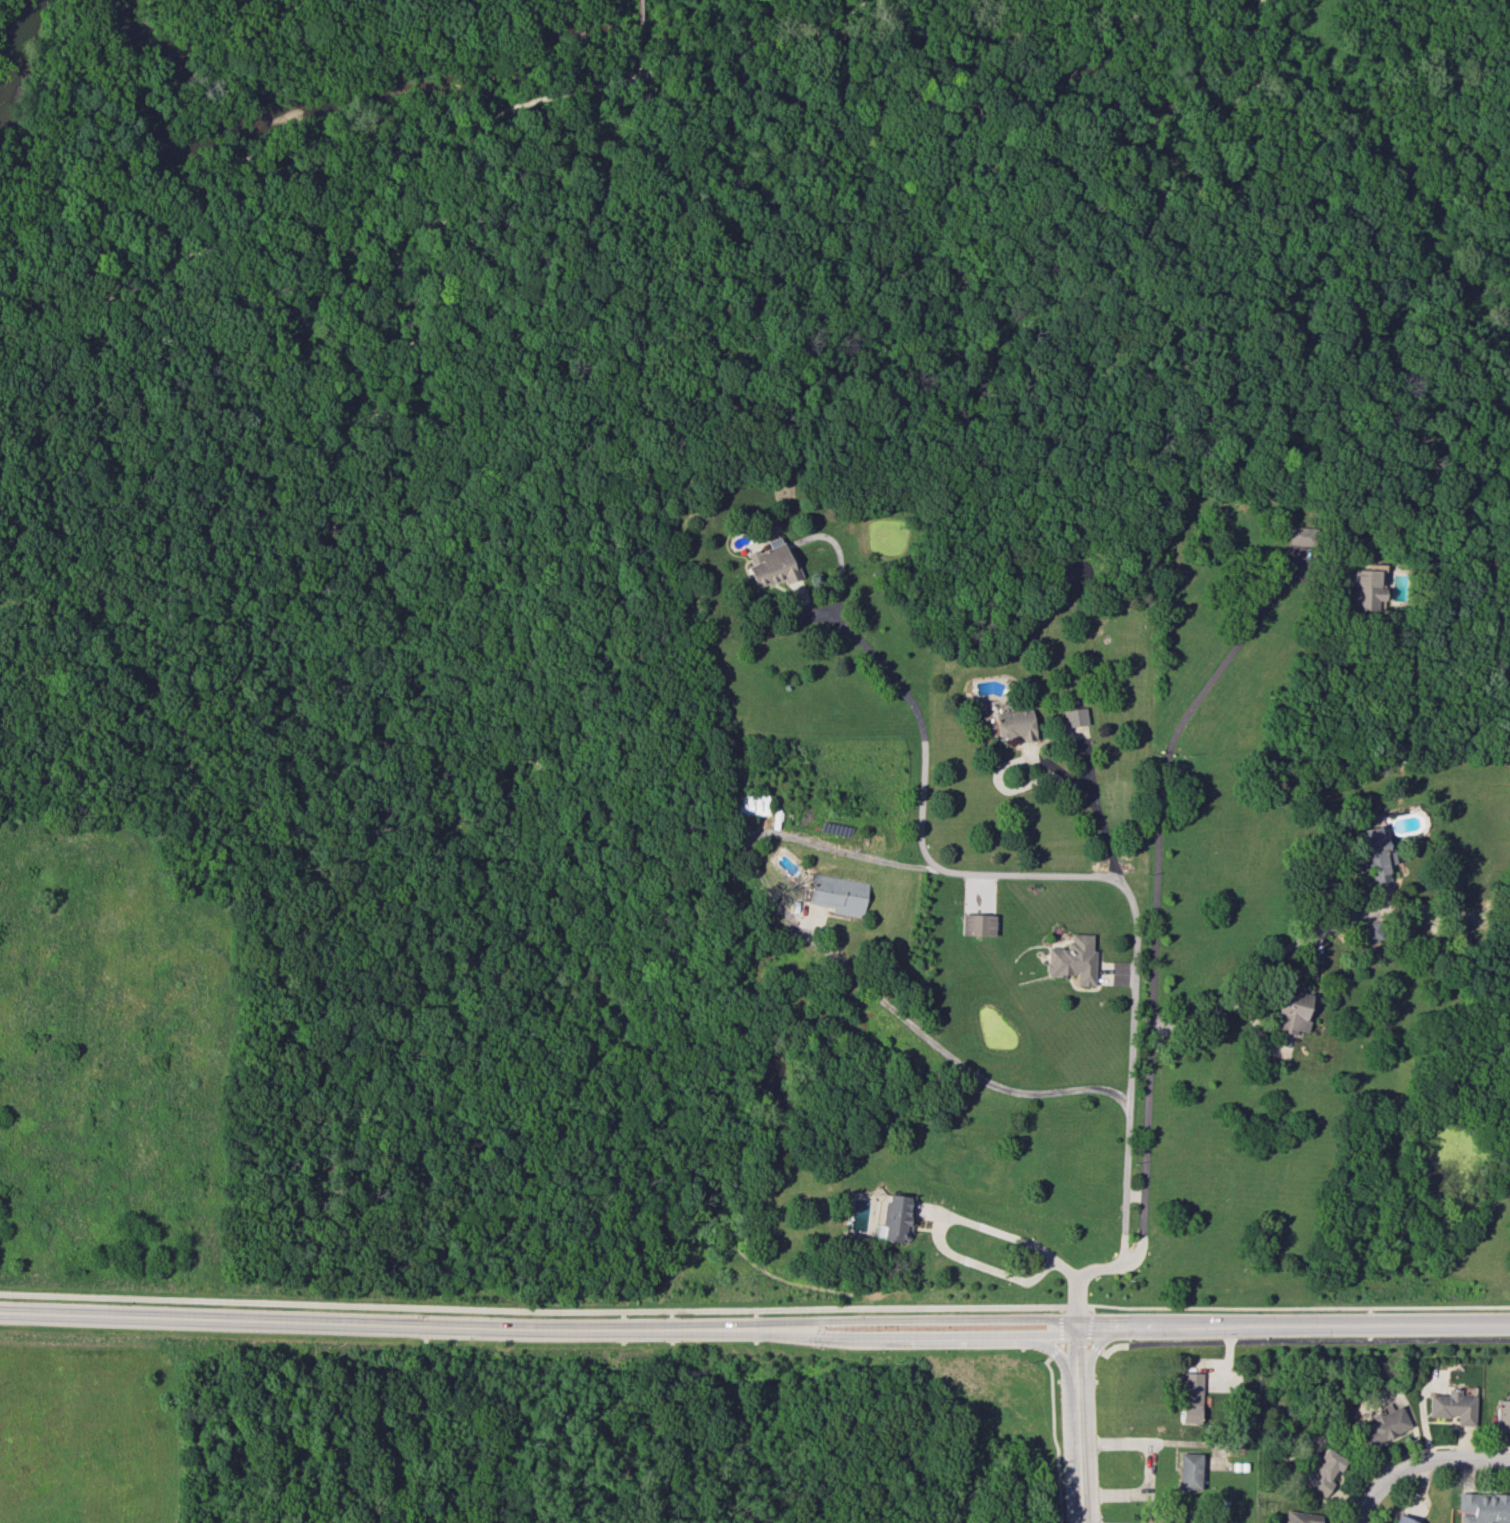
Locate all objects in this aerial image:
road: (639, 14)
road: (411, 374)
building: (1300, 535)
building: (772, 566)
building: (1365, 587)
road: (1200, 693)
road: (912, 702)
building: (1074, 716)
building: (1014, 725)
building: (750, 804)
road: (1093, 806)
building: (1373, 854)
building: (837, 894)
park: (343, 907)
building: (977, 924)
building: (1366, 931)
road: (1136, 956)
building: (1073, 958)
road: (834, 965)
road: (1239, 994)
building: (1292, 1011)
road: (1148, 1056)
building: (895, 1218)
road: (937, 1220)
road: (1079, 1282)
road: (1285, 1308)
road: (530, 1312)
road: (541, 1312)
road: (1008, 1312)
road: (842, 1313)
road: (375, 1322)
road: (1293, 1322)
road: (1089, 1331)
road: (914, 1333)
road: (1062, 1334)
road: (1098, 1341)
road: (1305, 1343)
road: (1050, 1348)
building: (1191, 1397)
building: (1453, 1406)
building: (1503, 1413)
park: (531, 1415)
road: (1080, 1422)
road: (316, 1423)
building: (1385, 1423)
road: (1053, 1439)
road: (1418, 1463)
road: (1148, 1469)
building: (1189, 1470)
building: (1319, 1470)
building: (1486, 1506)
building: (1300, 1517)
building: (1403, 1519)
building: (1187, 1521)

